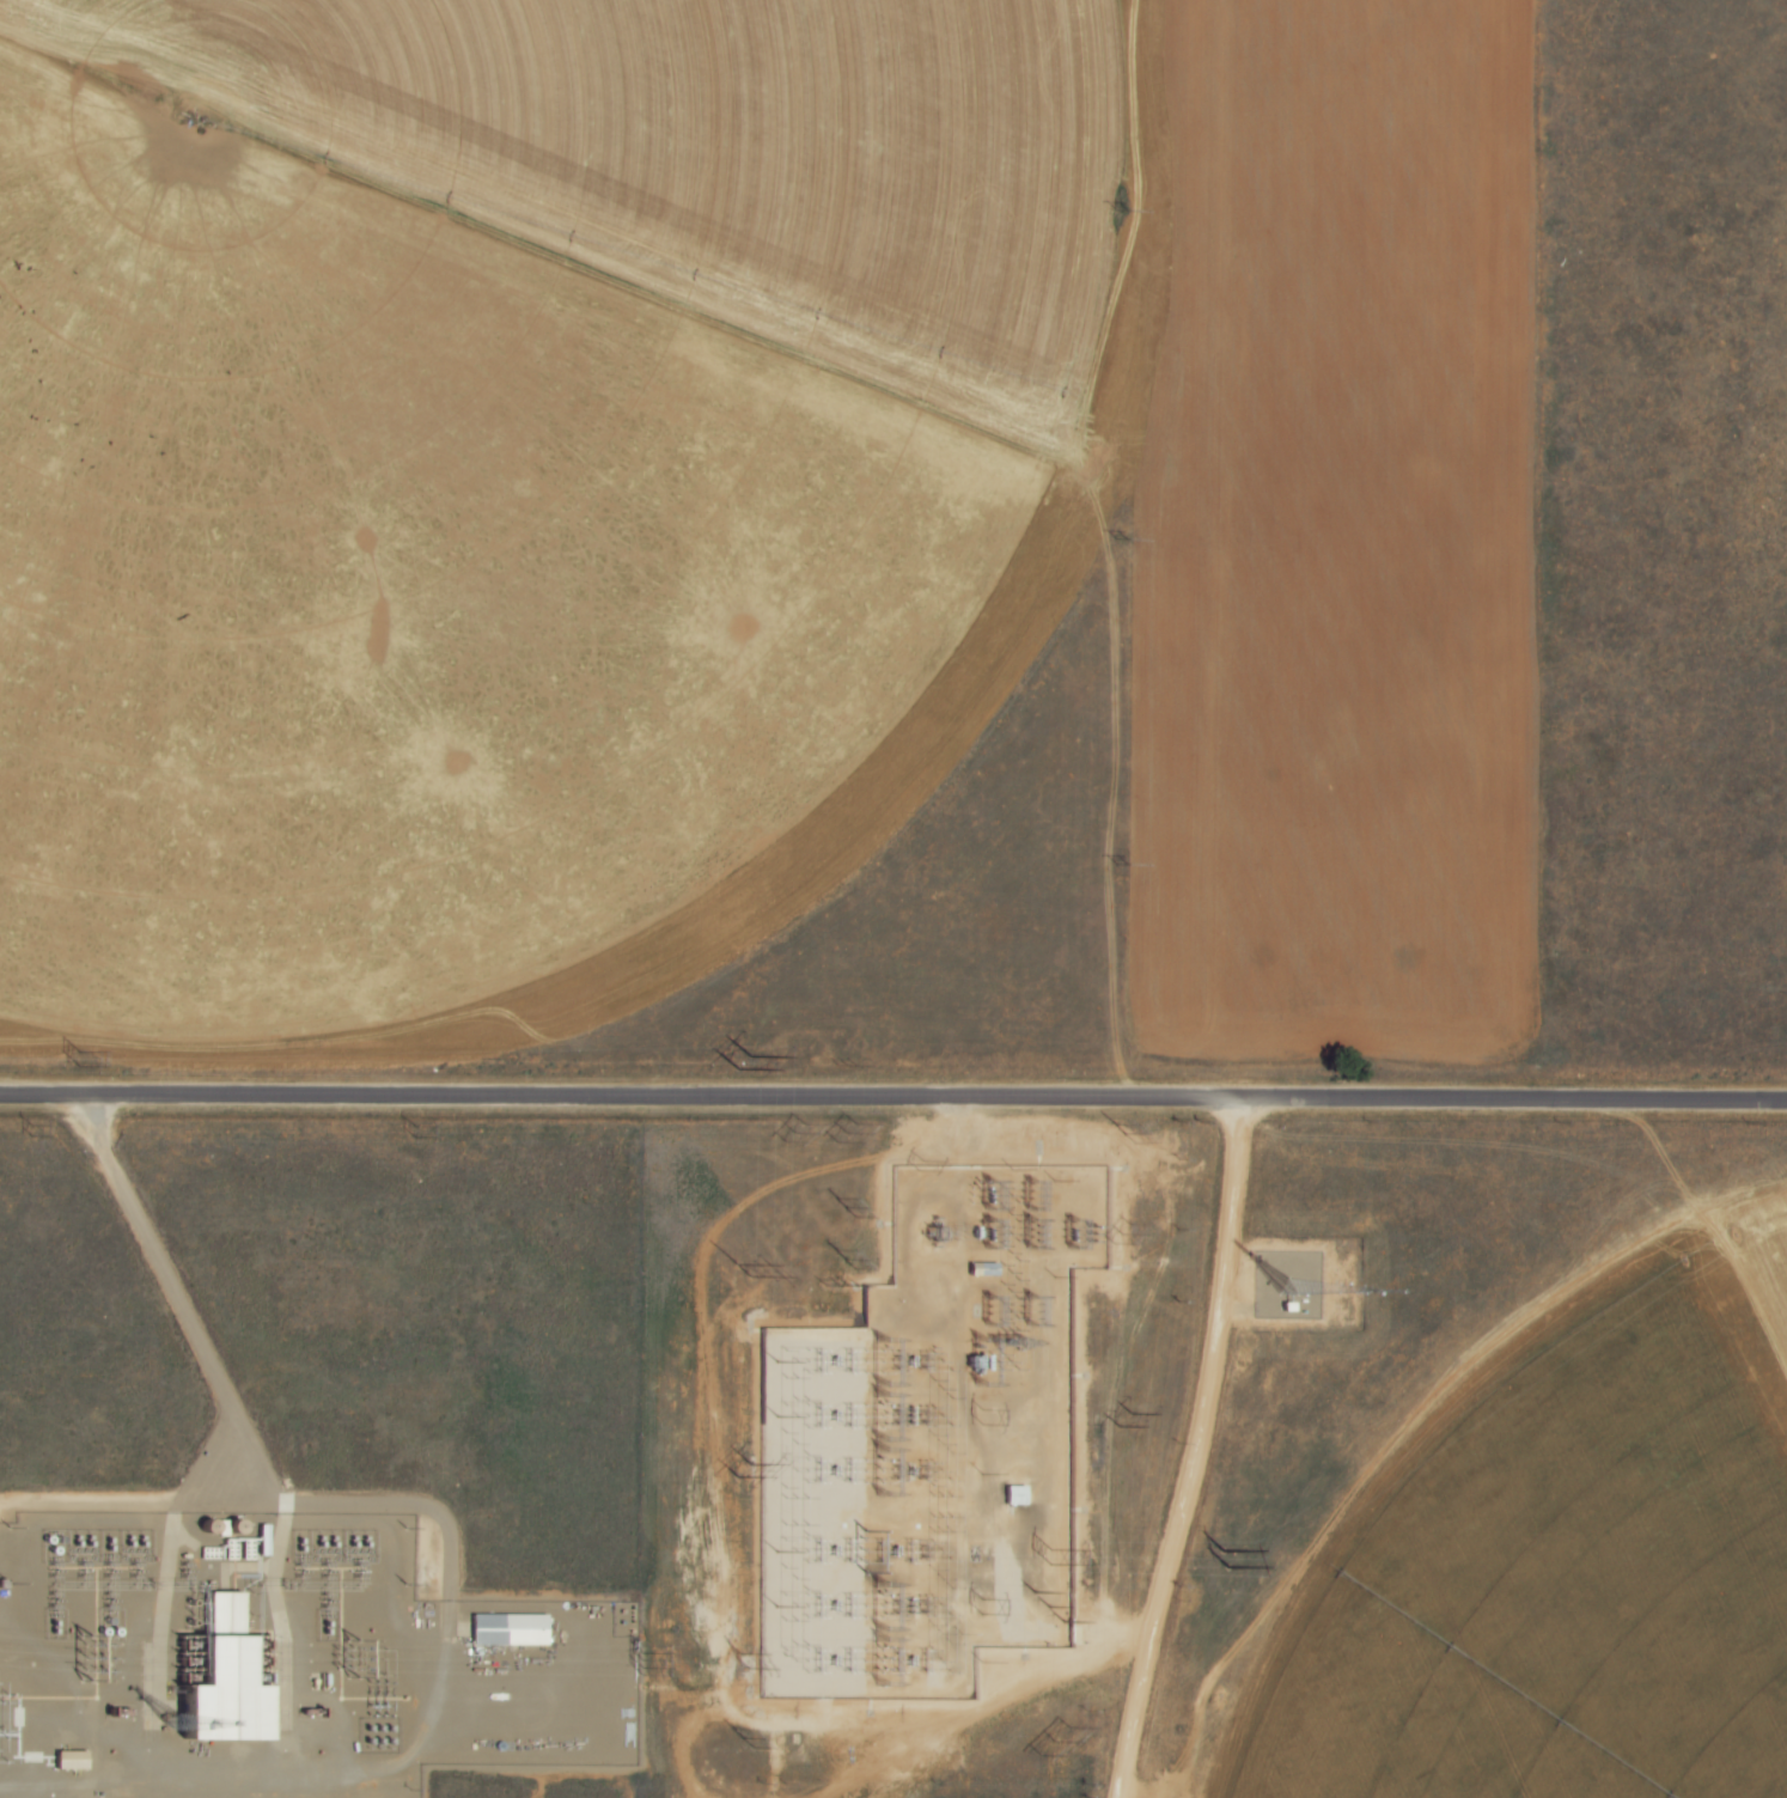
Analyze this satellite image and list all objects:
power tower: (1121, 209)
power tower: (1124, 864)
power tower: (80, 1059)
power tower: (742, 1061)
road: (893, 1096)
power tower: (28, 1129)
power tower: (846, 1132)
road: (951, 1132)
power tower: (1126, 1132)
power tower: (414, 1133)
power tower: (797, 1134)
power tower: (921, 1163)
power tower: (848, 1209)
power tower: (1123, 1233)
road: (157, 1251)
power tower: (850, 1263)
power tower: (743, 1266)
building: (982, 1269)
power tower: (838, 1286)
power tower: (1123, 1419)
power substation: (931, 1445)
road: (1195, 1450)
road: (256, 1456)
power tower: (740, 1468)
building: (1016, 1498)
road: (138, 1503)
road: (427, 1505)
road: (169, 1561)
road: (276, 1604)
power tower: (983, 1607)
power tower: (1051, 1607)
building: (511, 1629)
road: (1111, 1639)
power tower: (745, 1656)
power tower: (646, 1659)
power substation: (282, 1662)
building: (219, 1682)
power tower: (1053, 1733)
power tower: (744, 1738)
building: (77, 1761)

